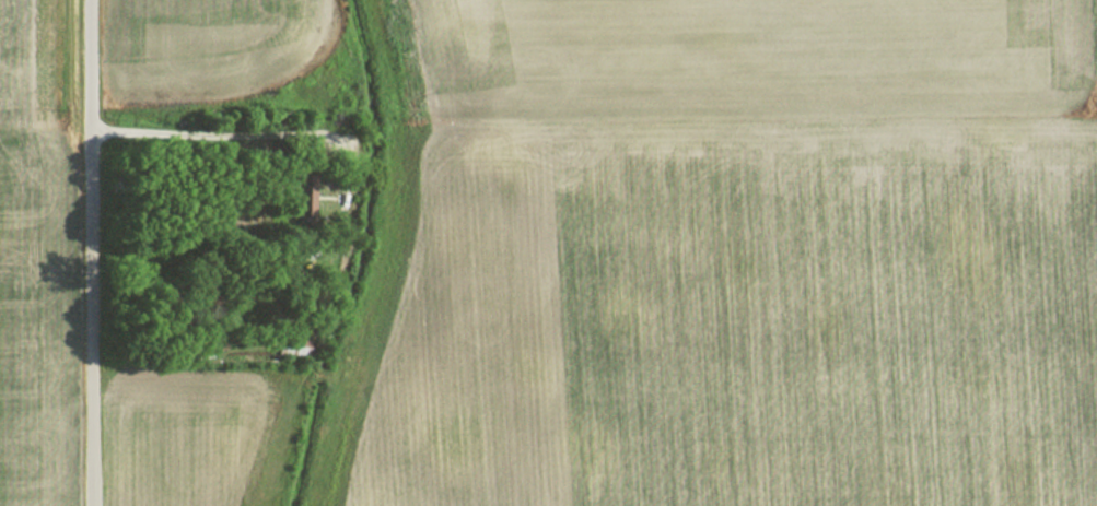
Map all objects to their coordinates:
crop: (218, 38)
crop: (744, 59)
road: (240, 132)
road: (91, 252)
crop: (25, 257)
crop: (810, 314)
crop: (450, 330)
crop: (179, 429)

